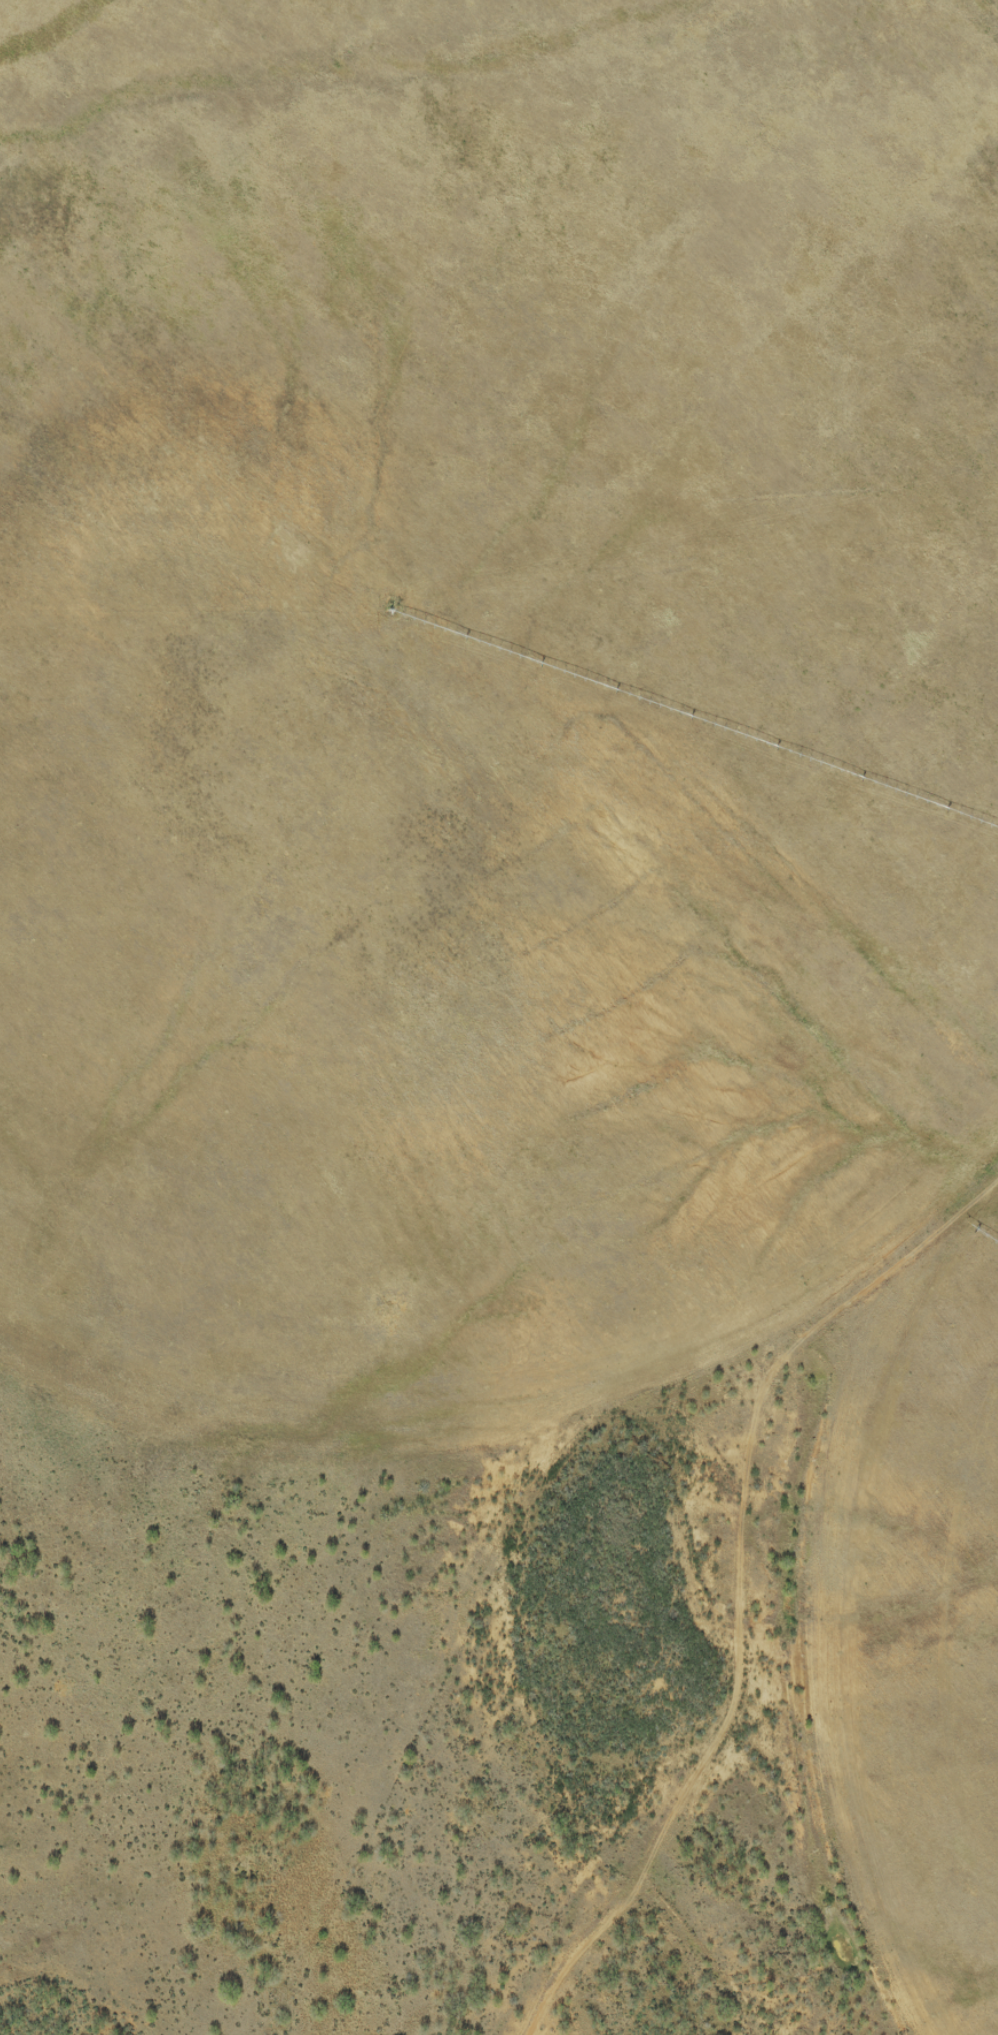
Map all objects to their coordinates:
road: (595, 1282)

